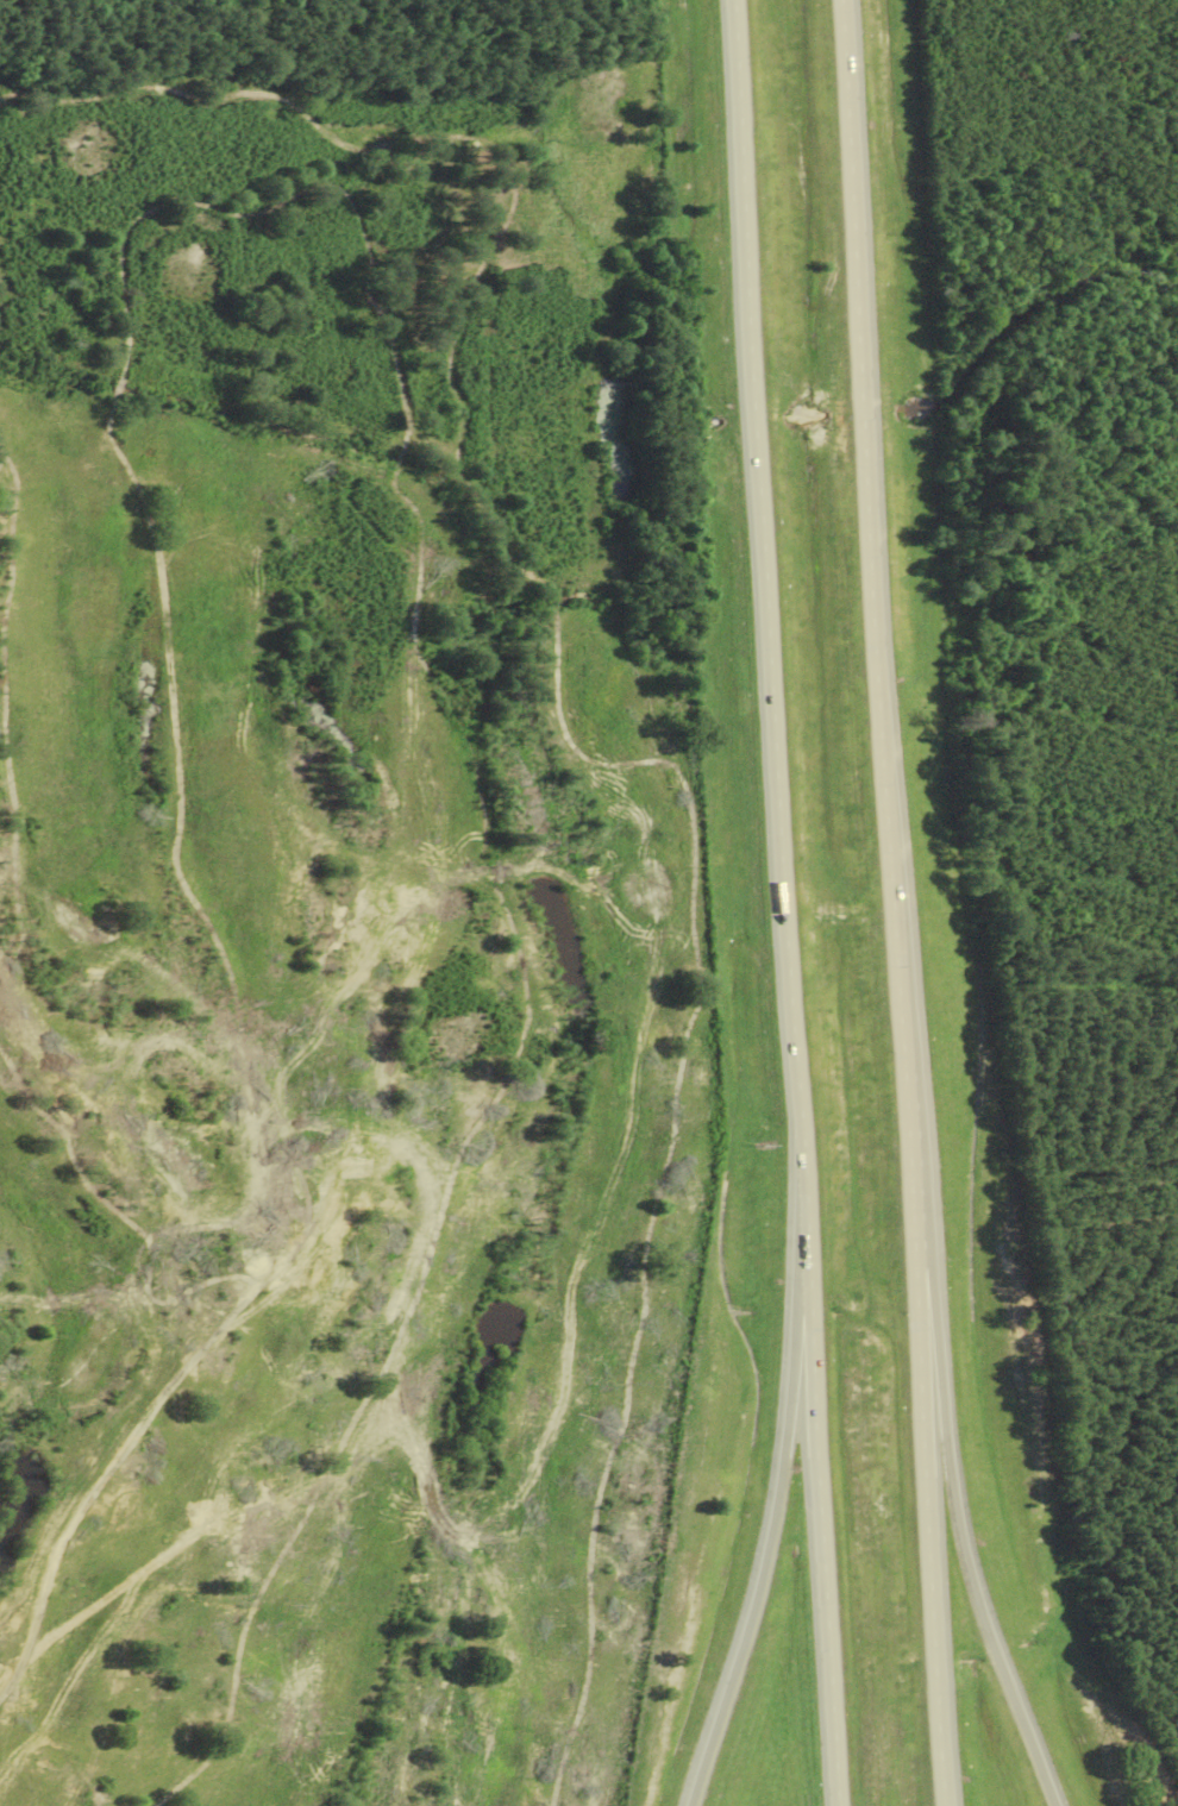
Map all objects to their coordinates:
road: (751, 280)
road: (787, 895)
road: (895, 902)
road: (953, 1484)
road: (825, 1517)
road: (777, 1522)

